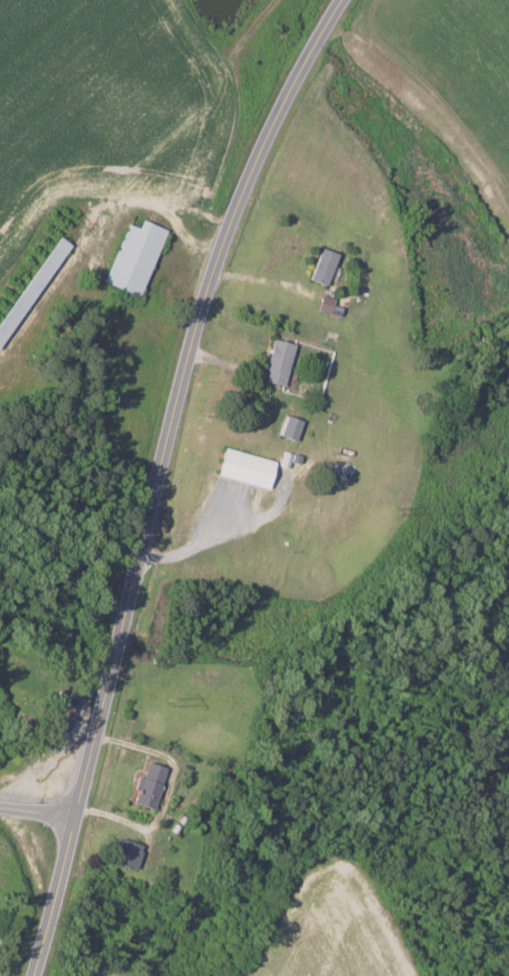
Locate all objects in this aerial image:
building: (134, 257)
building: (323, 267)
building: (329, 306)
building: (278, 362)
building: (290, 428)
building: (245, 468)
road: (157, 474)
power tower: (404, 511)
power tower: (174, 701)
building: (63, 709)
building: (149, 784)
road: (106, 796)
road: (37, 811)
building: (128, 852)

